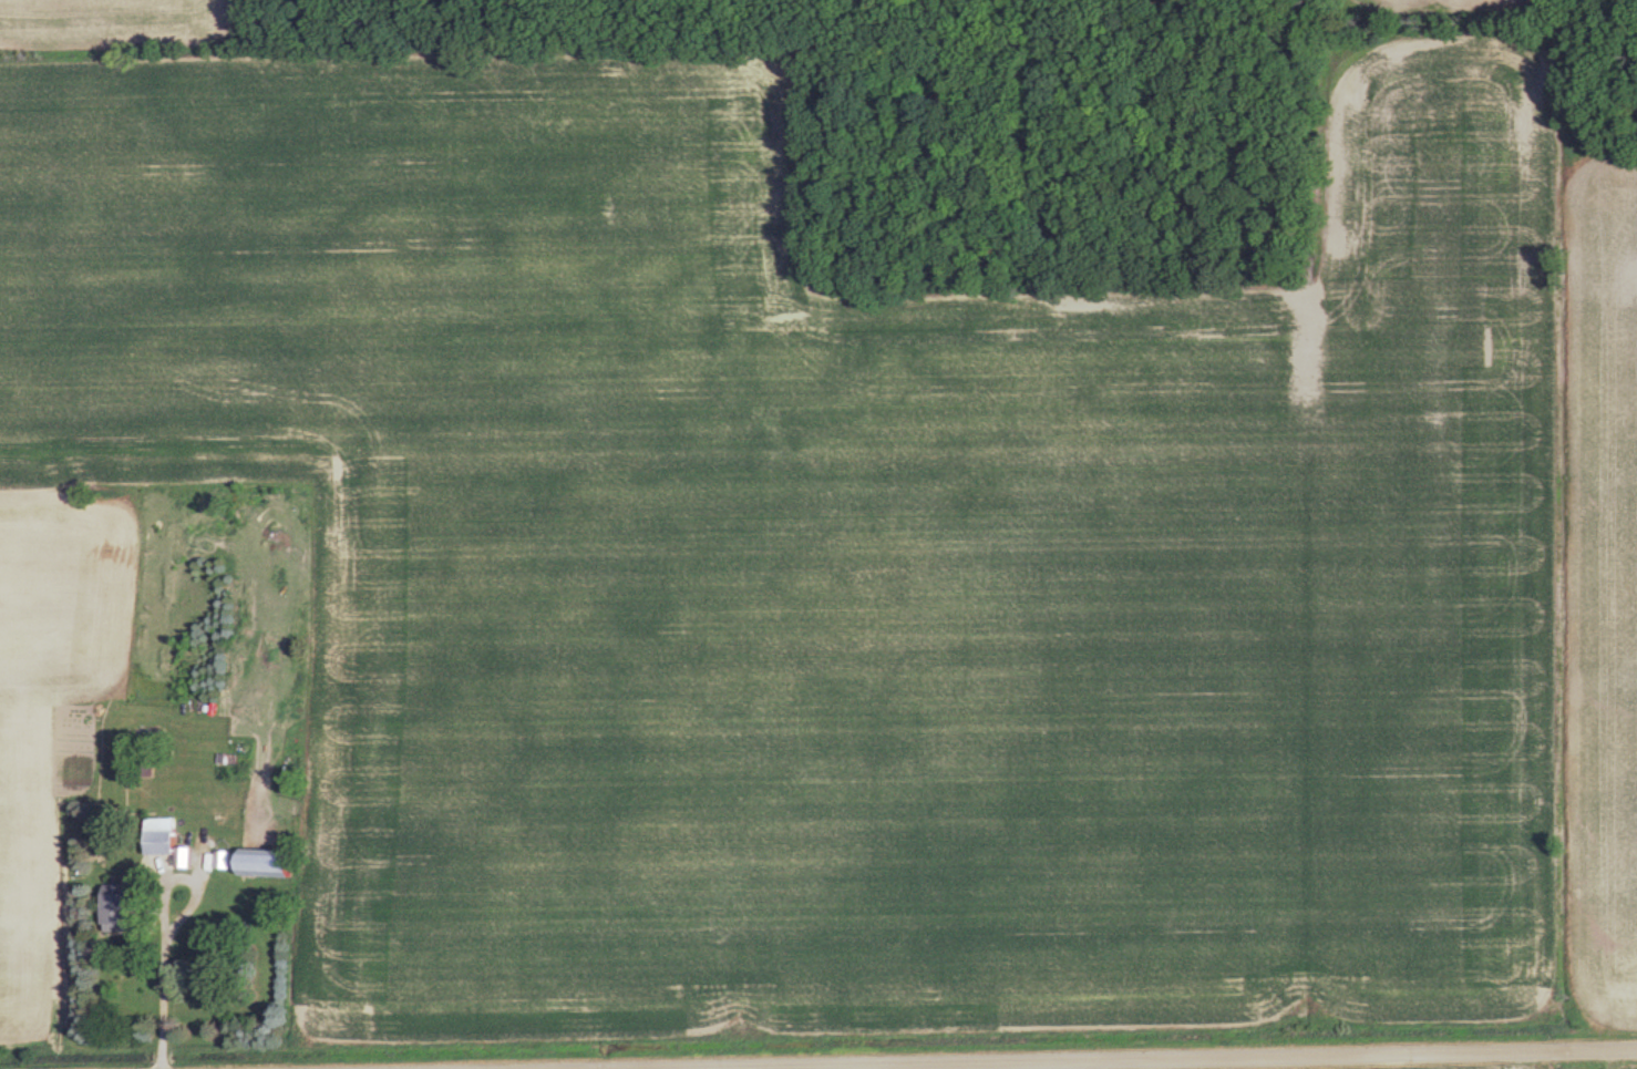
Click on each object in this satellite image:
building: (173, 847)
building: (276, 864)
building: (128, 908)
road: (158, 984)
road: (1021, 1060)
road: (529, 1068)

